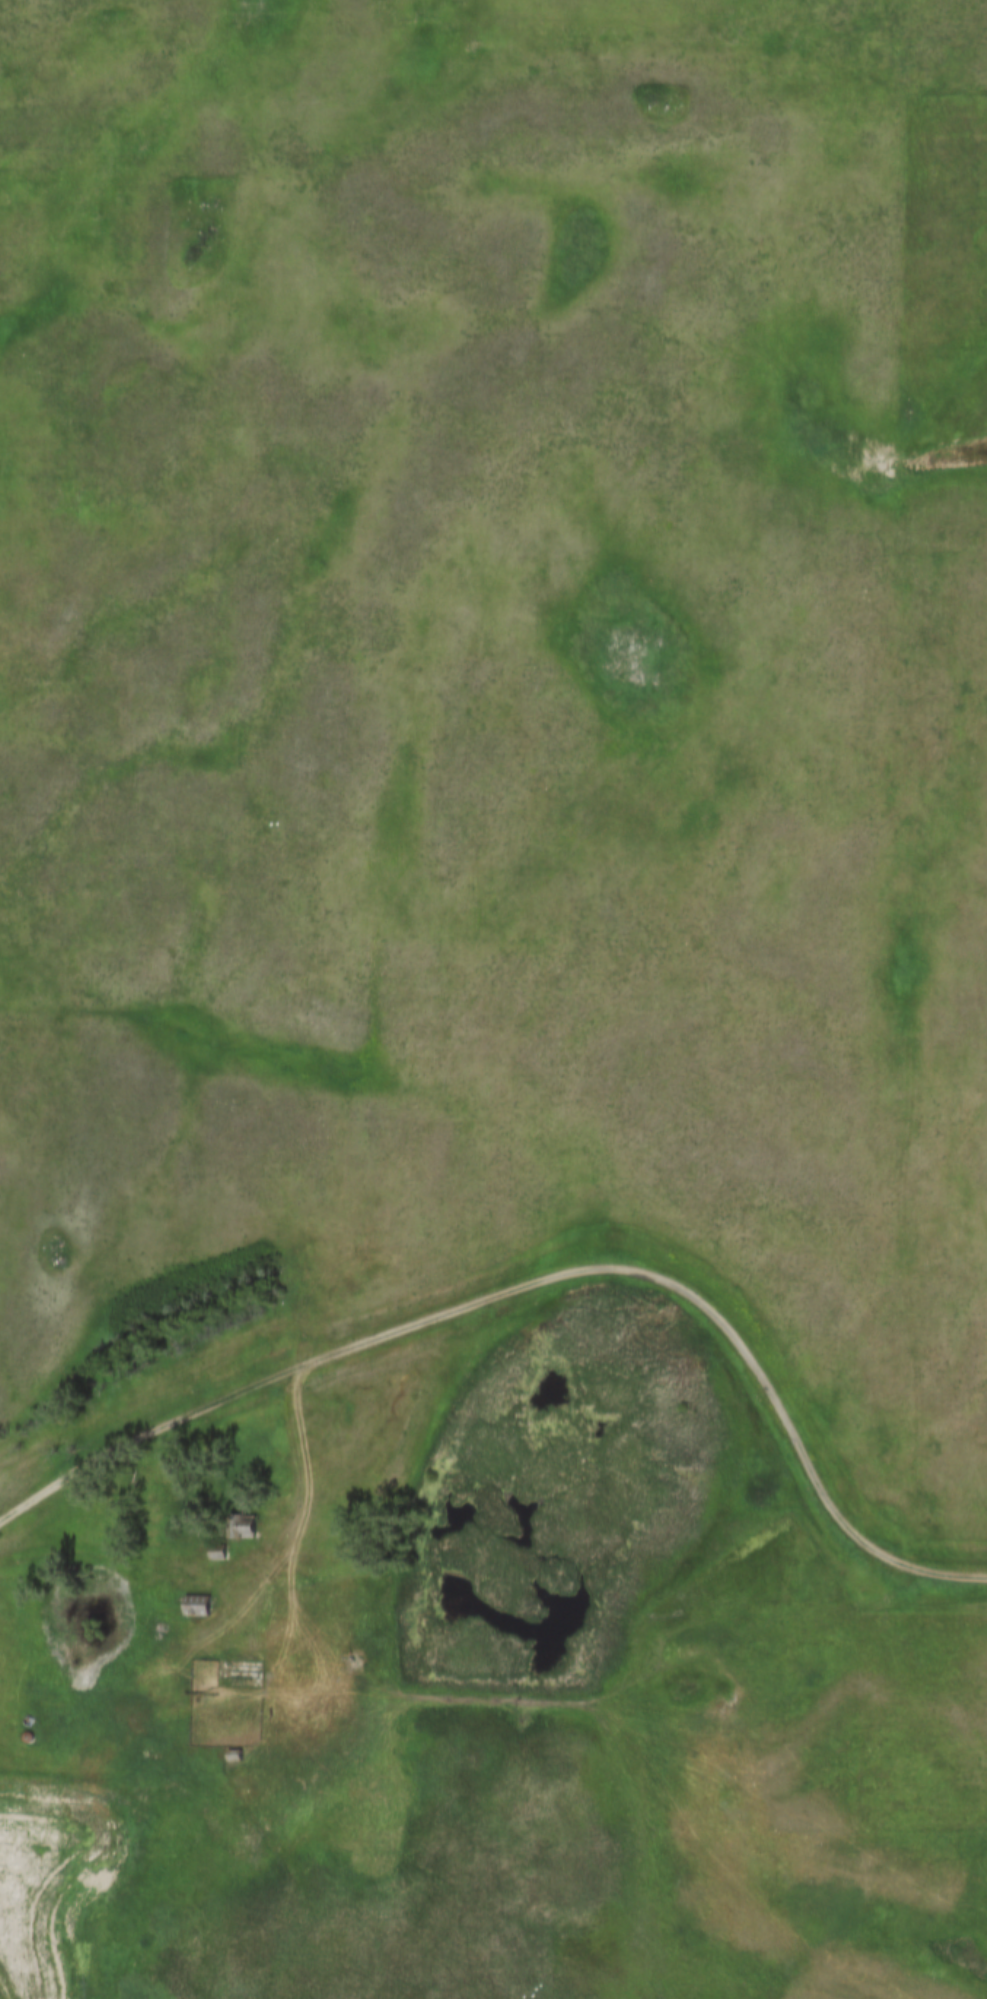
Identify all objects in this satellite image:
road: (701, 1302)
road: (145, 1438)
road: (299, 1466)
building: (244, 1527)
building: (217, 1554)
building: (196, 1607)
building: (233, 1756)
road: (9, 1983)

